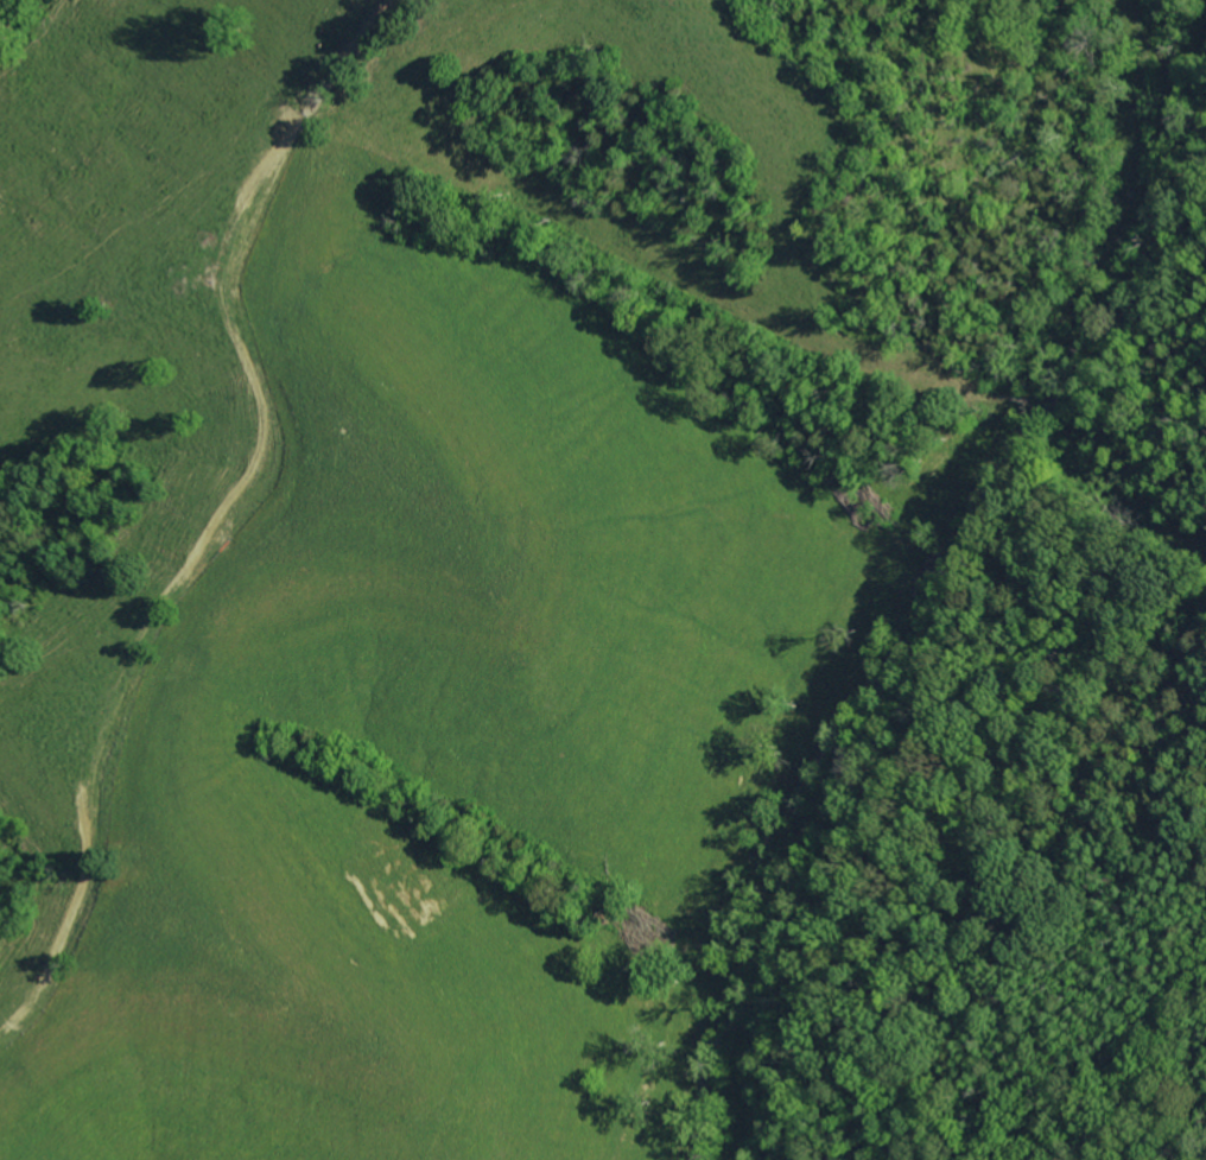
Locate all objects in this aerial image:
road: (301, 59)

